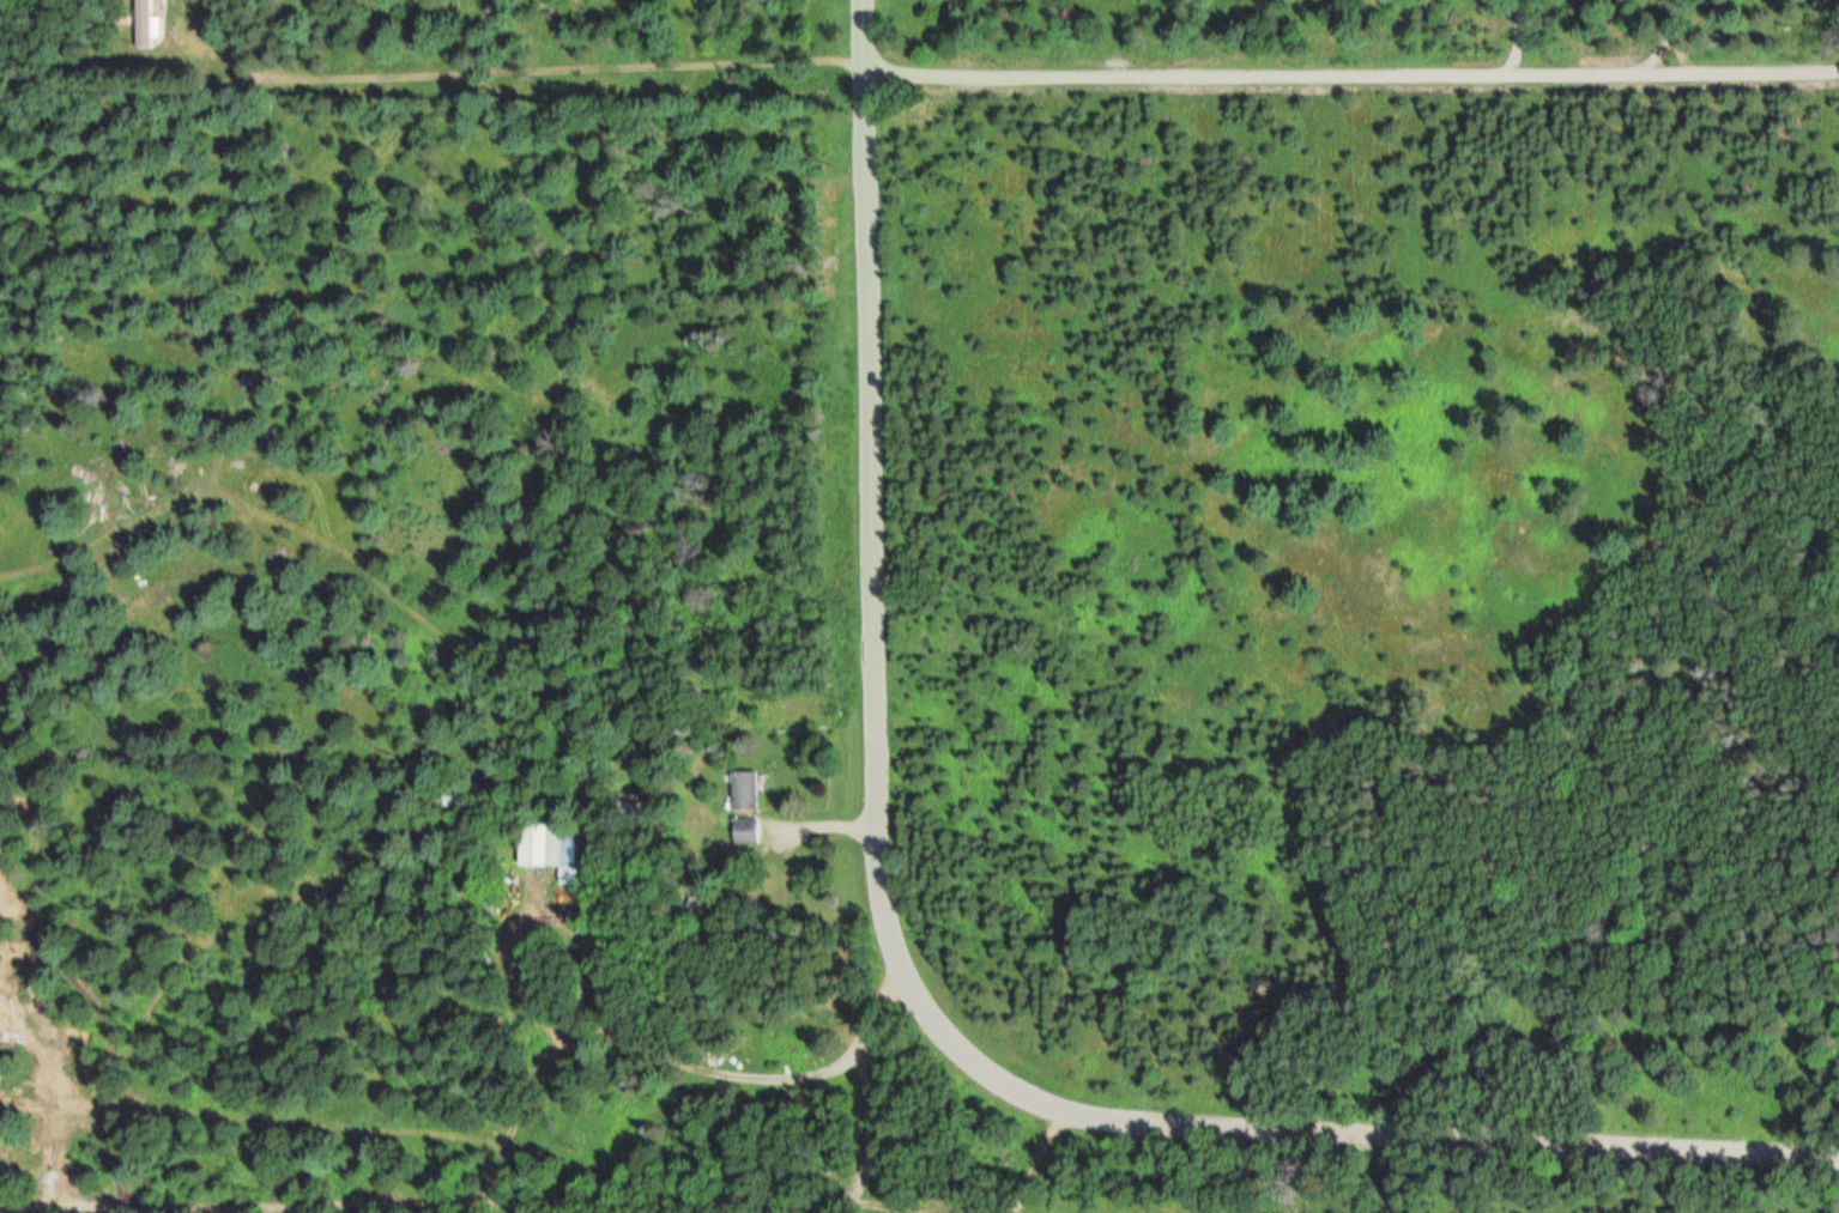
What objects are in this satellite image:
building: (147, 19)
road: (510, 74)
road: (1350, 77)
building: (742, 789)
building: (743, 830)
building: (550, 848)
road: (905, 982)
road: (1034, 1160)
road: (538, 1205)

